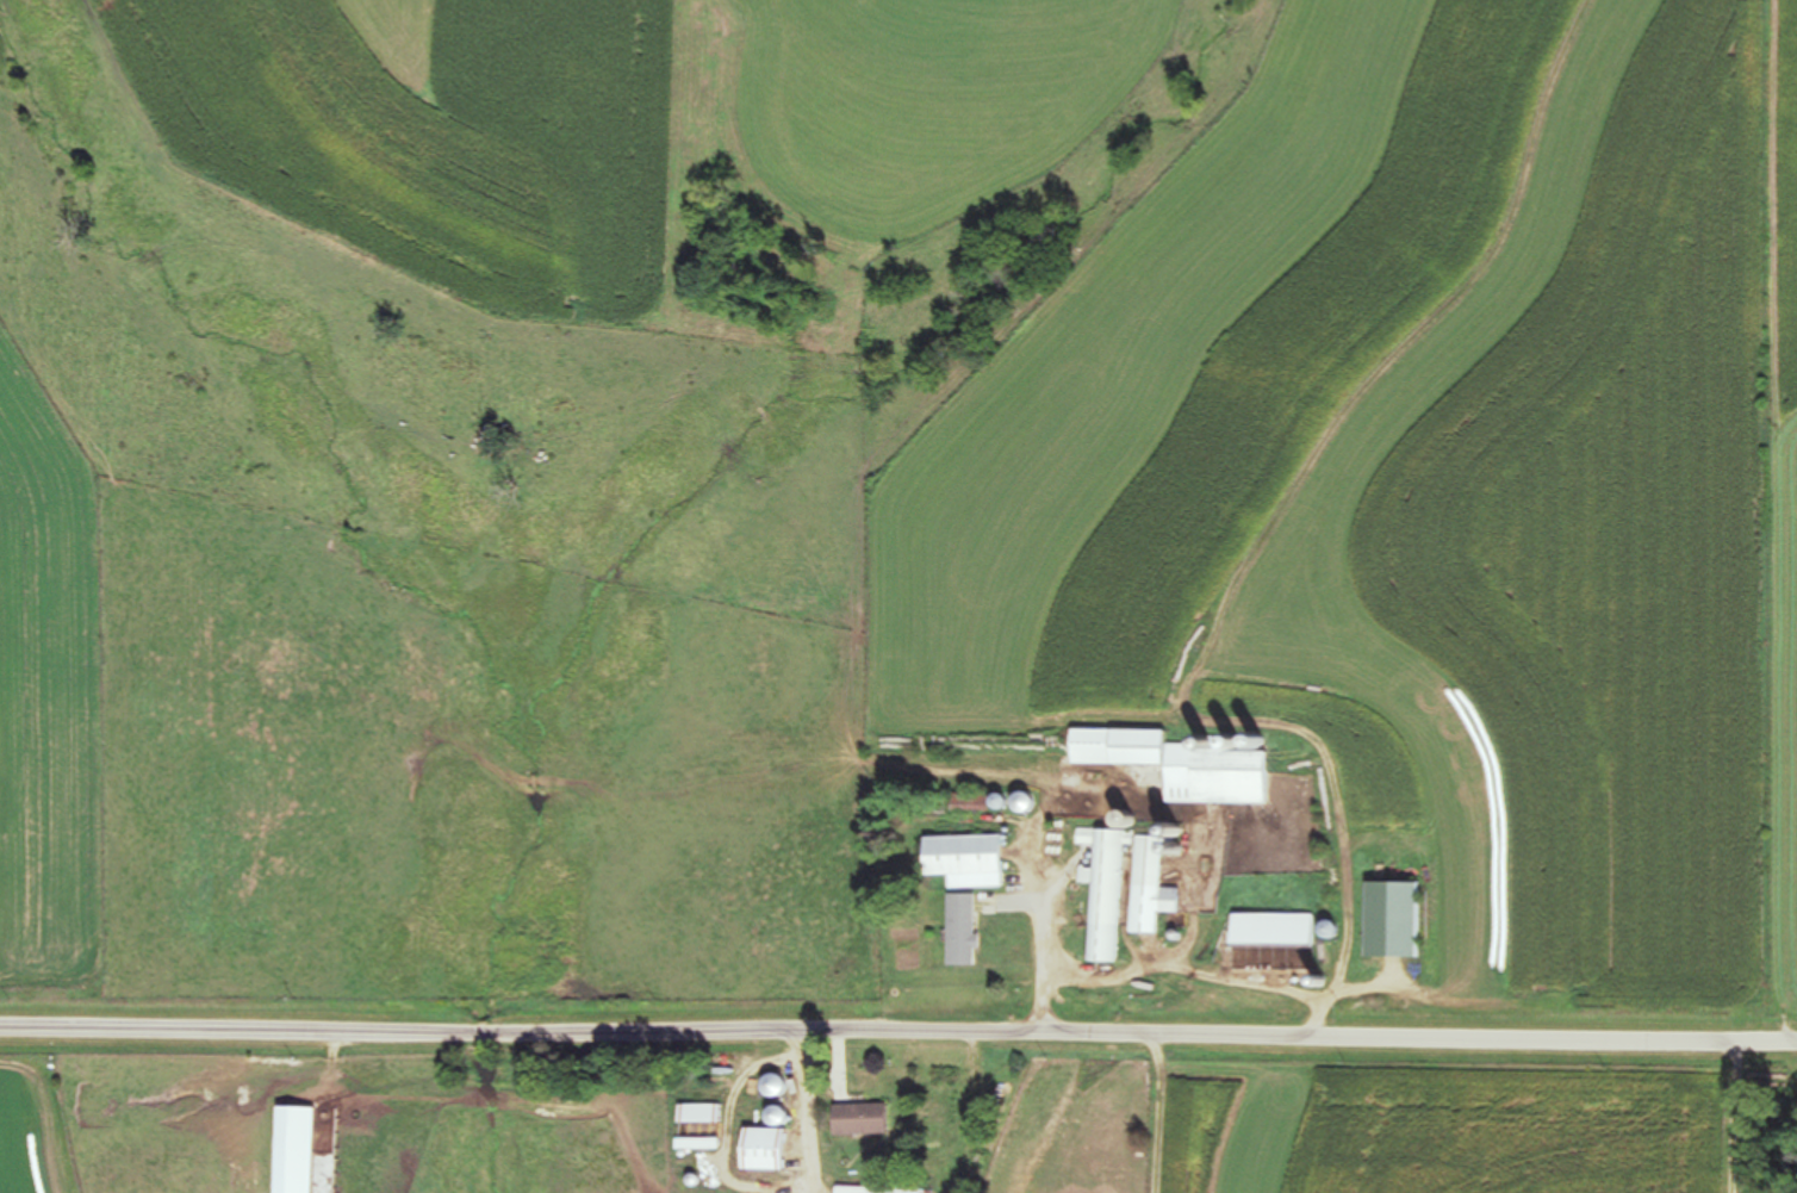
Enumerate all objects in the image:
building: (1127, 746)
building: (1236, 777)
building: (969, 855)
building: (1106, 872)
building: (1155, 884)
building: (969, 930)
road: (898, 1000)
building: (779, 1083)
building: (784, 1116)
building: (869, 1118)
building: (300, 1150)
building: (885, 1191)

